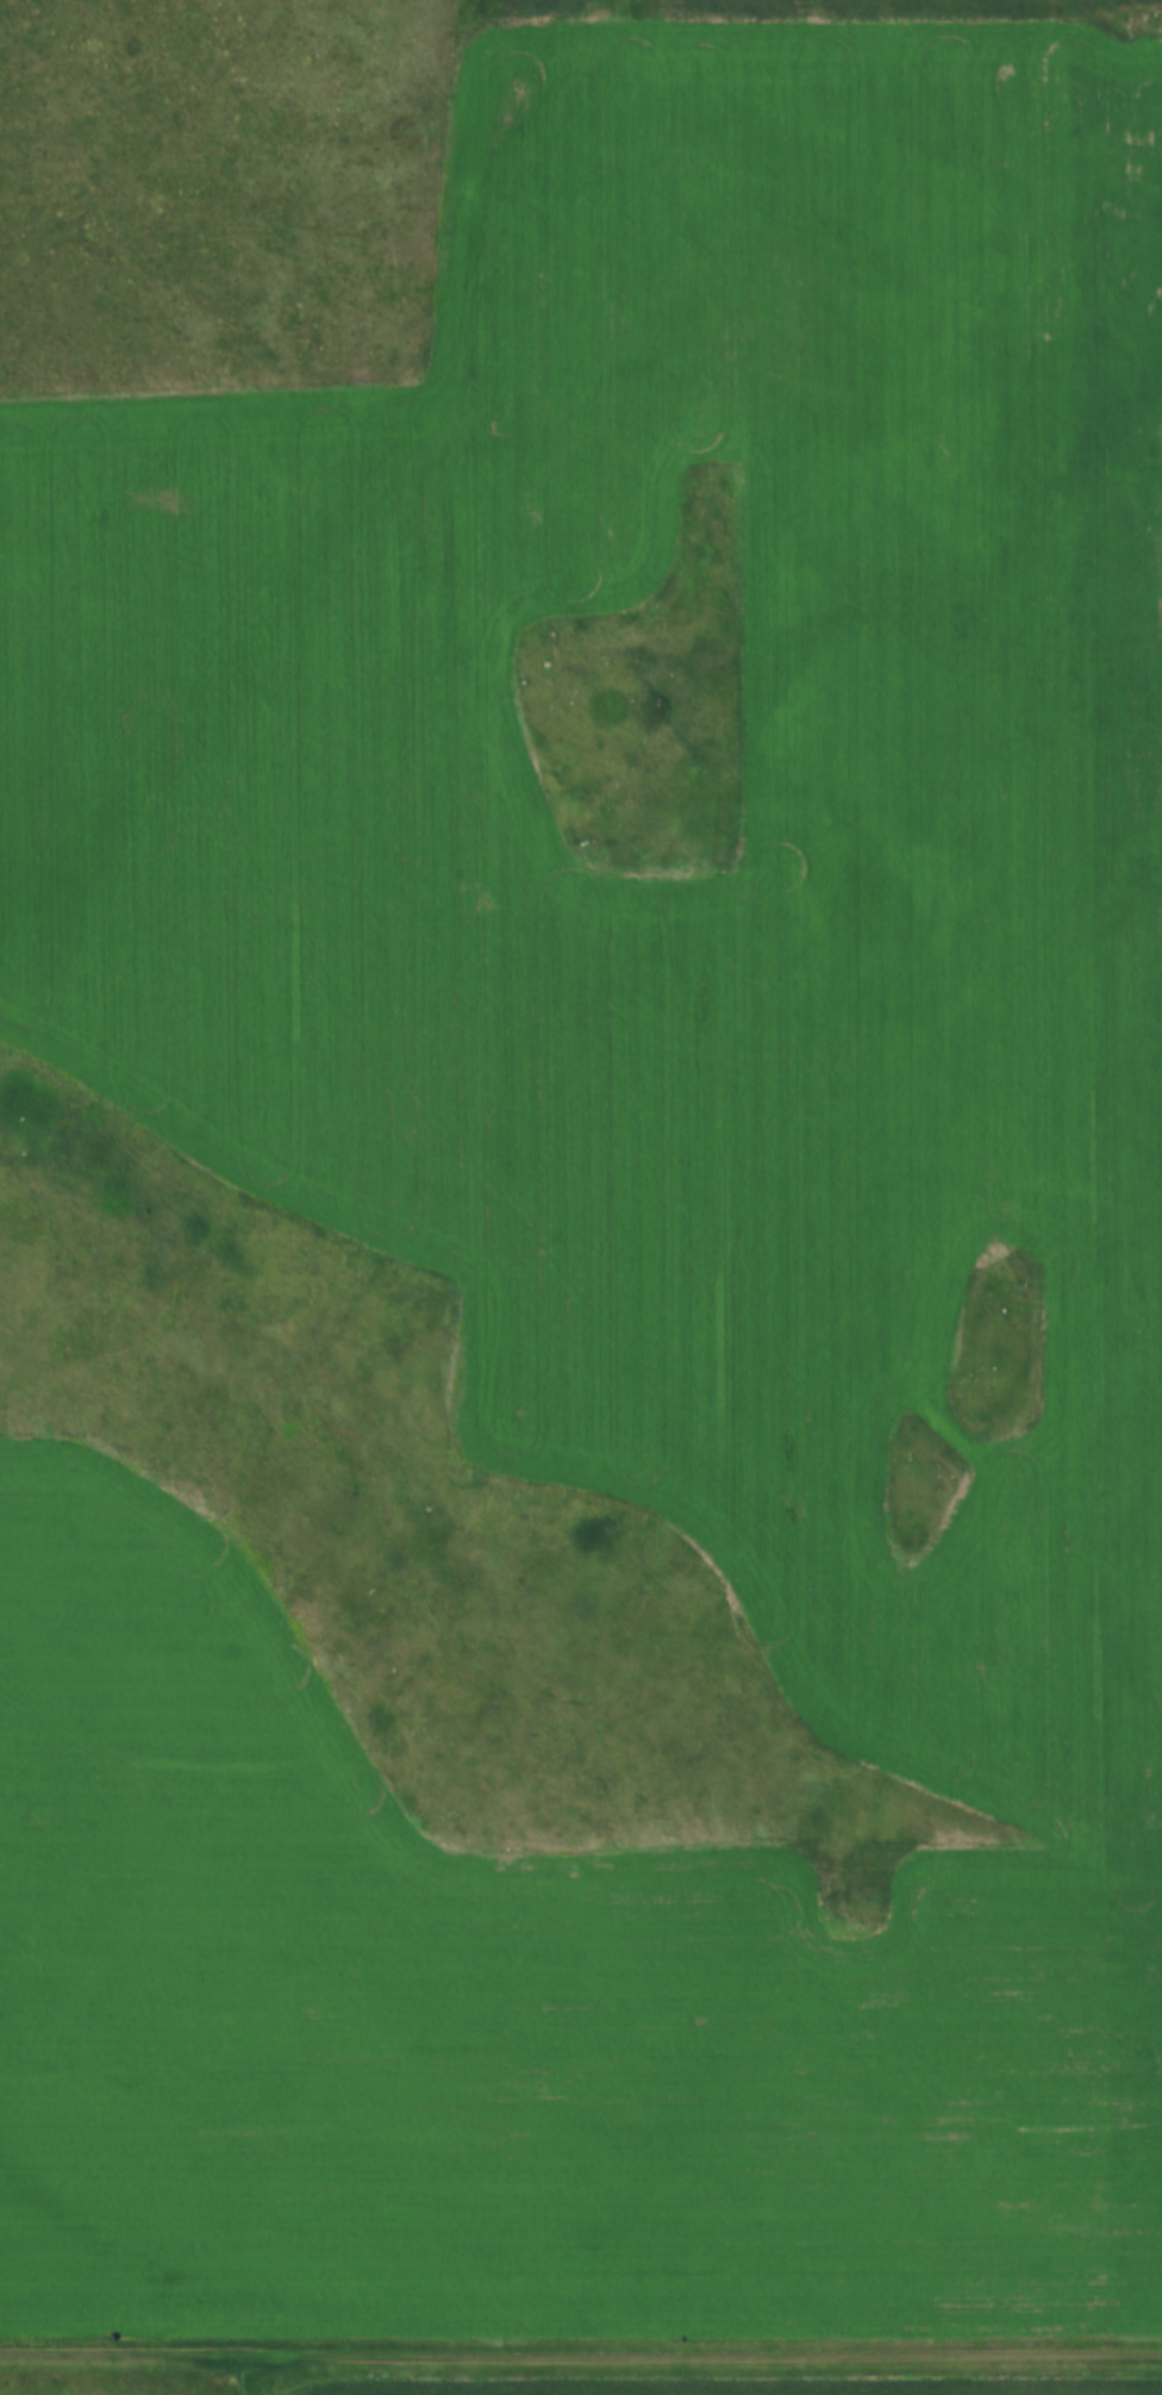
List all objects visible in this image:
road: (580, 2347)

